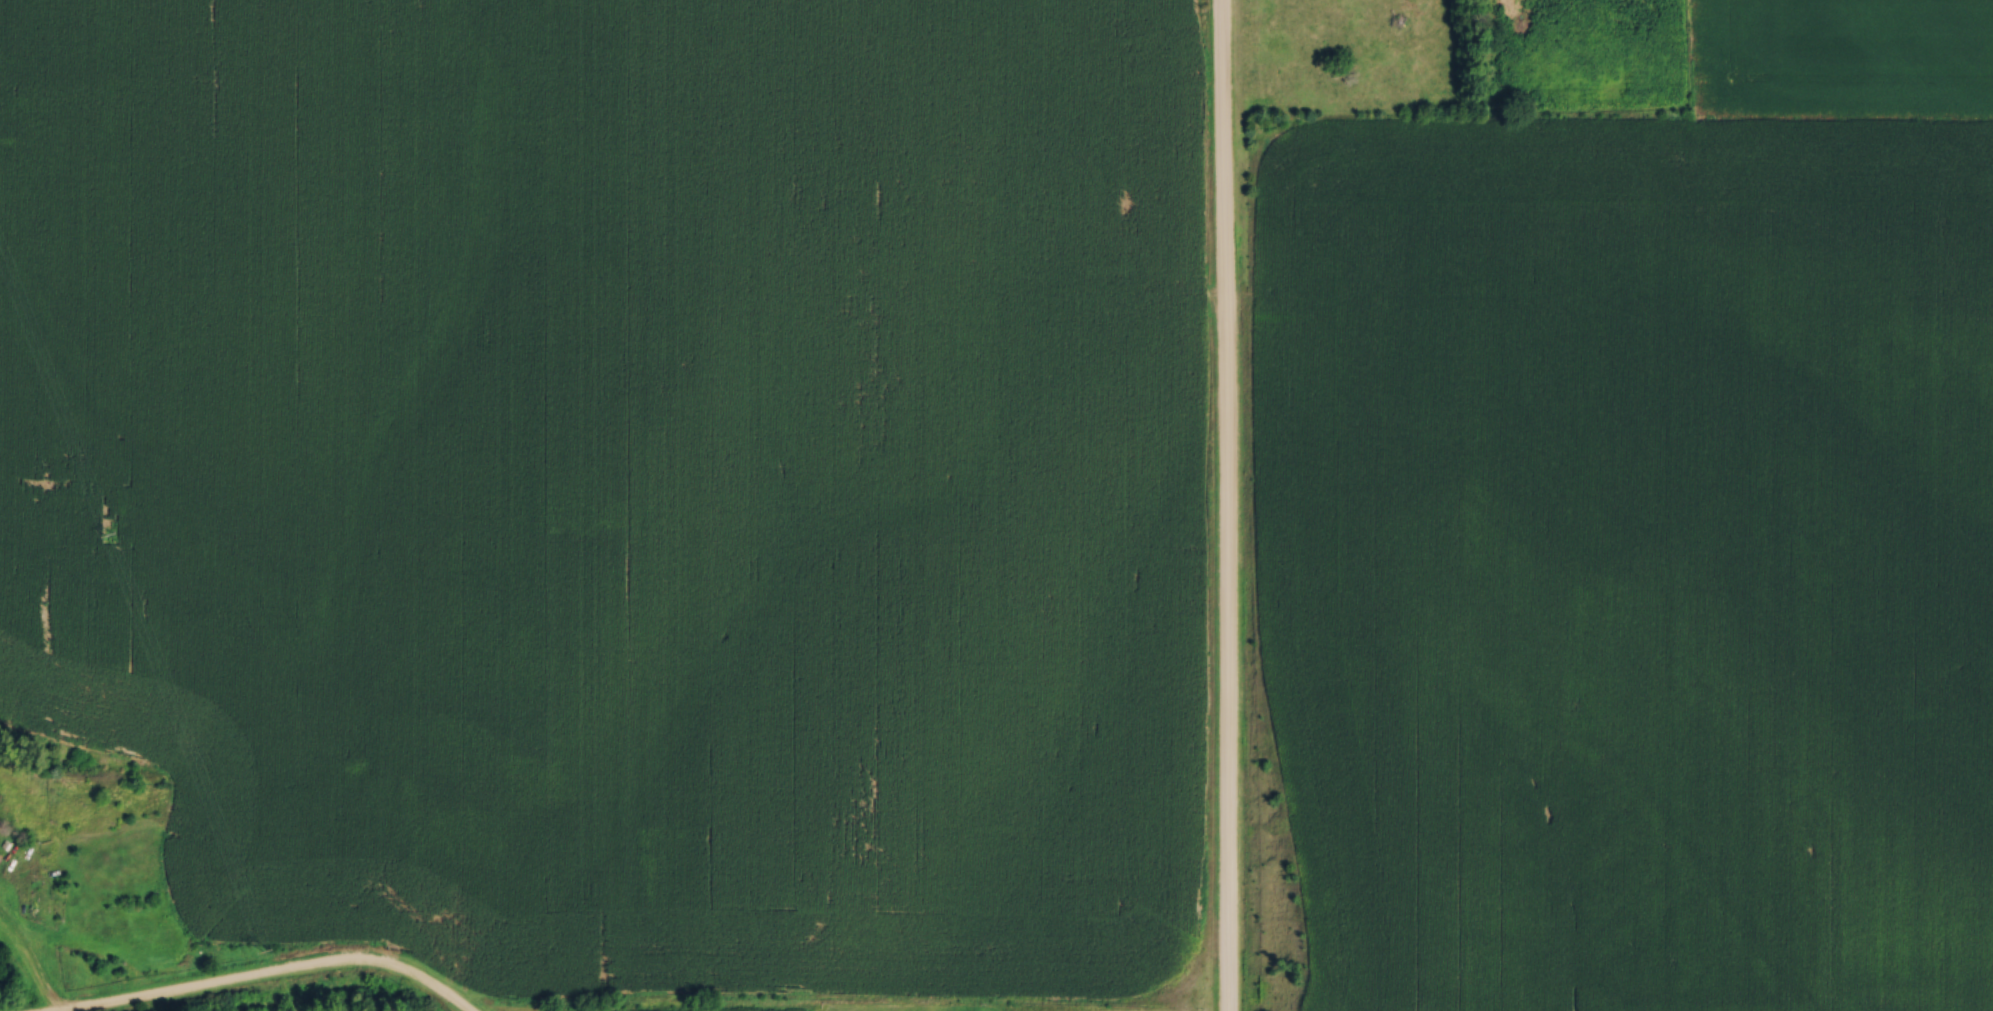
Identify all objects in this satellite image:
road: (1226, 505)
power tower: (110, 534)
power tower: (269, 950)
road: (33, 960)
road: (278, 974)

